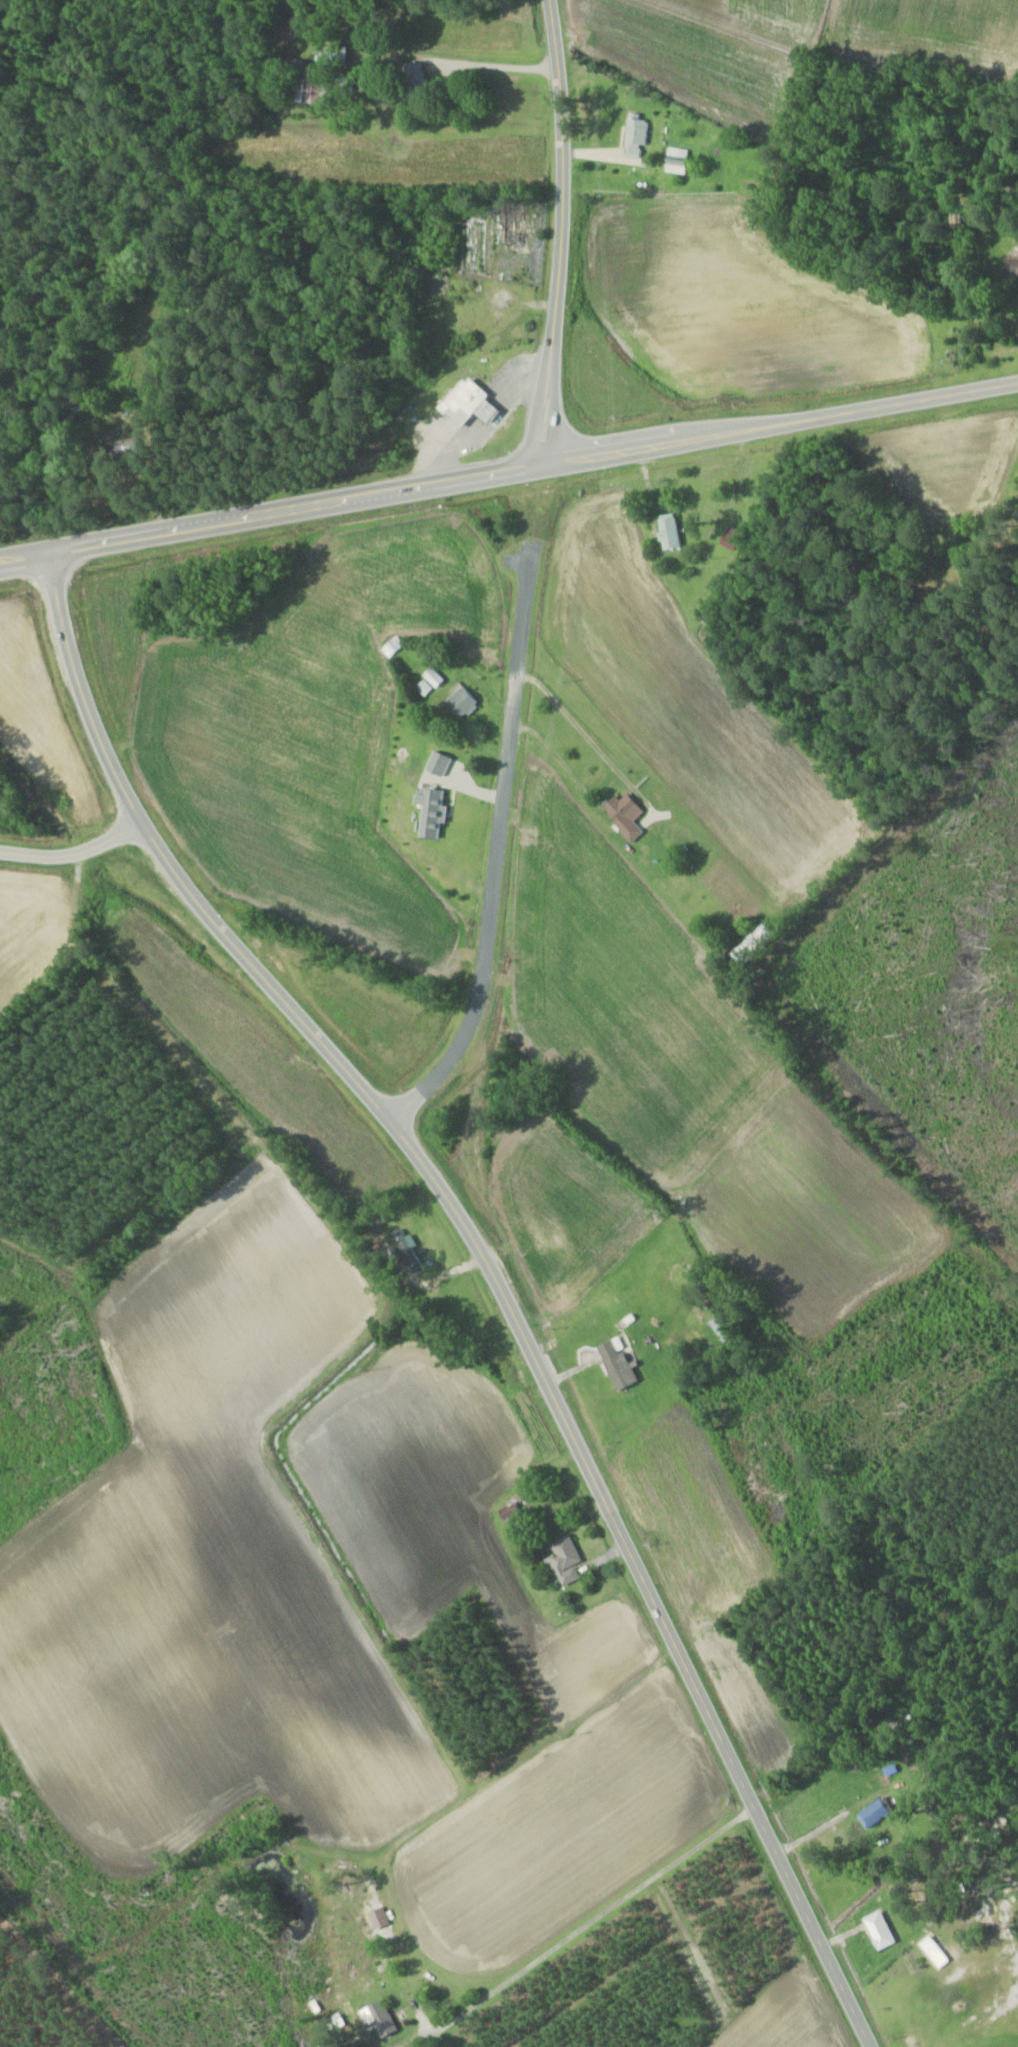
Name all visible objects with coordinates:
building: (271, 35)
building: (330, 55)
building: (410, 80)
building: (311, 88)
building: (633, 136)
building: (675, 160)
building: (510, 226)
road: (561, 232)
building: (477, 242)
building: (1009, 269)
building: (467, 404)
road: (780, 423)
road: (296, 508)
building: (667, 532)
road: (25, 555)
building: (392, 646)
building: (431, 676)
building: (459, 701)
building: (619, 810)
road: (494, 850)
road: (75, 853)
building: (749, 943)
building: (405, 1251)
road: (490, 1274)
building: (719, 1327)
building: (613, 1363)
building: (509, 1508)
building: (562, 1560)
building: (872, 1812)
road: (598, 1919)
building: (877, 1930)
building: (378, 2018)

